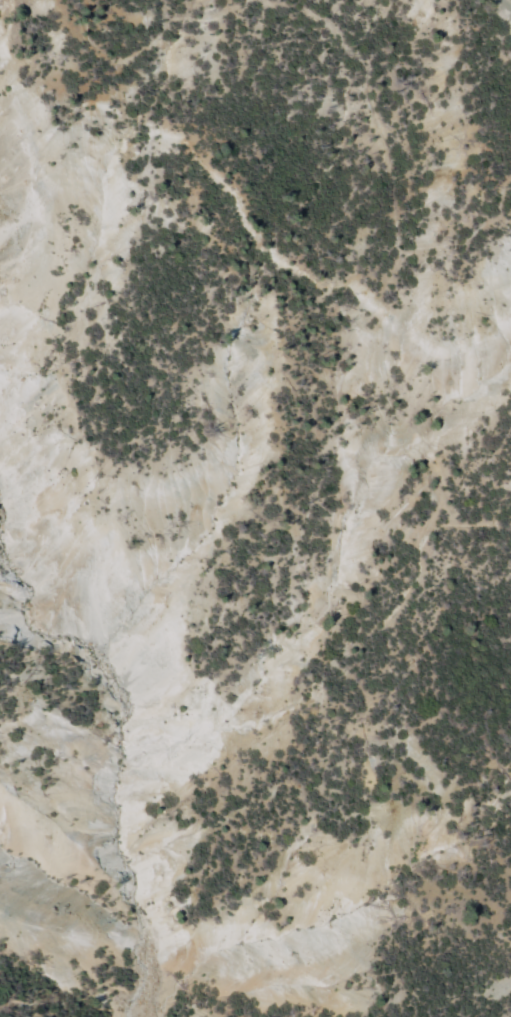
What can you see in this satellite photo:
road: (463, 26)

